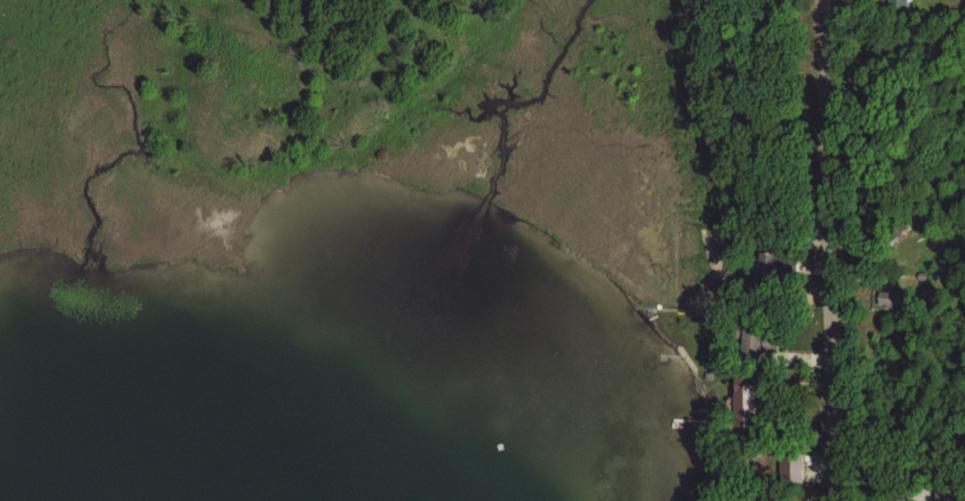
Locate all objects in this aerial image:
building: (894, 3)
road: (828, 250)
building: (775, 266)
building: (886, 298)
building: (756, 338)
building: (741, 398)
building: (789, 467)

